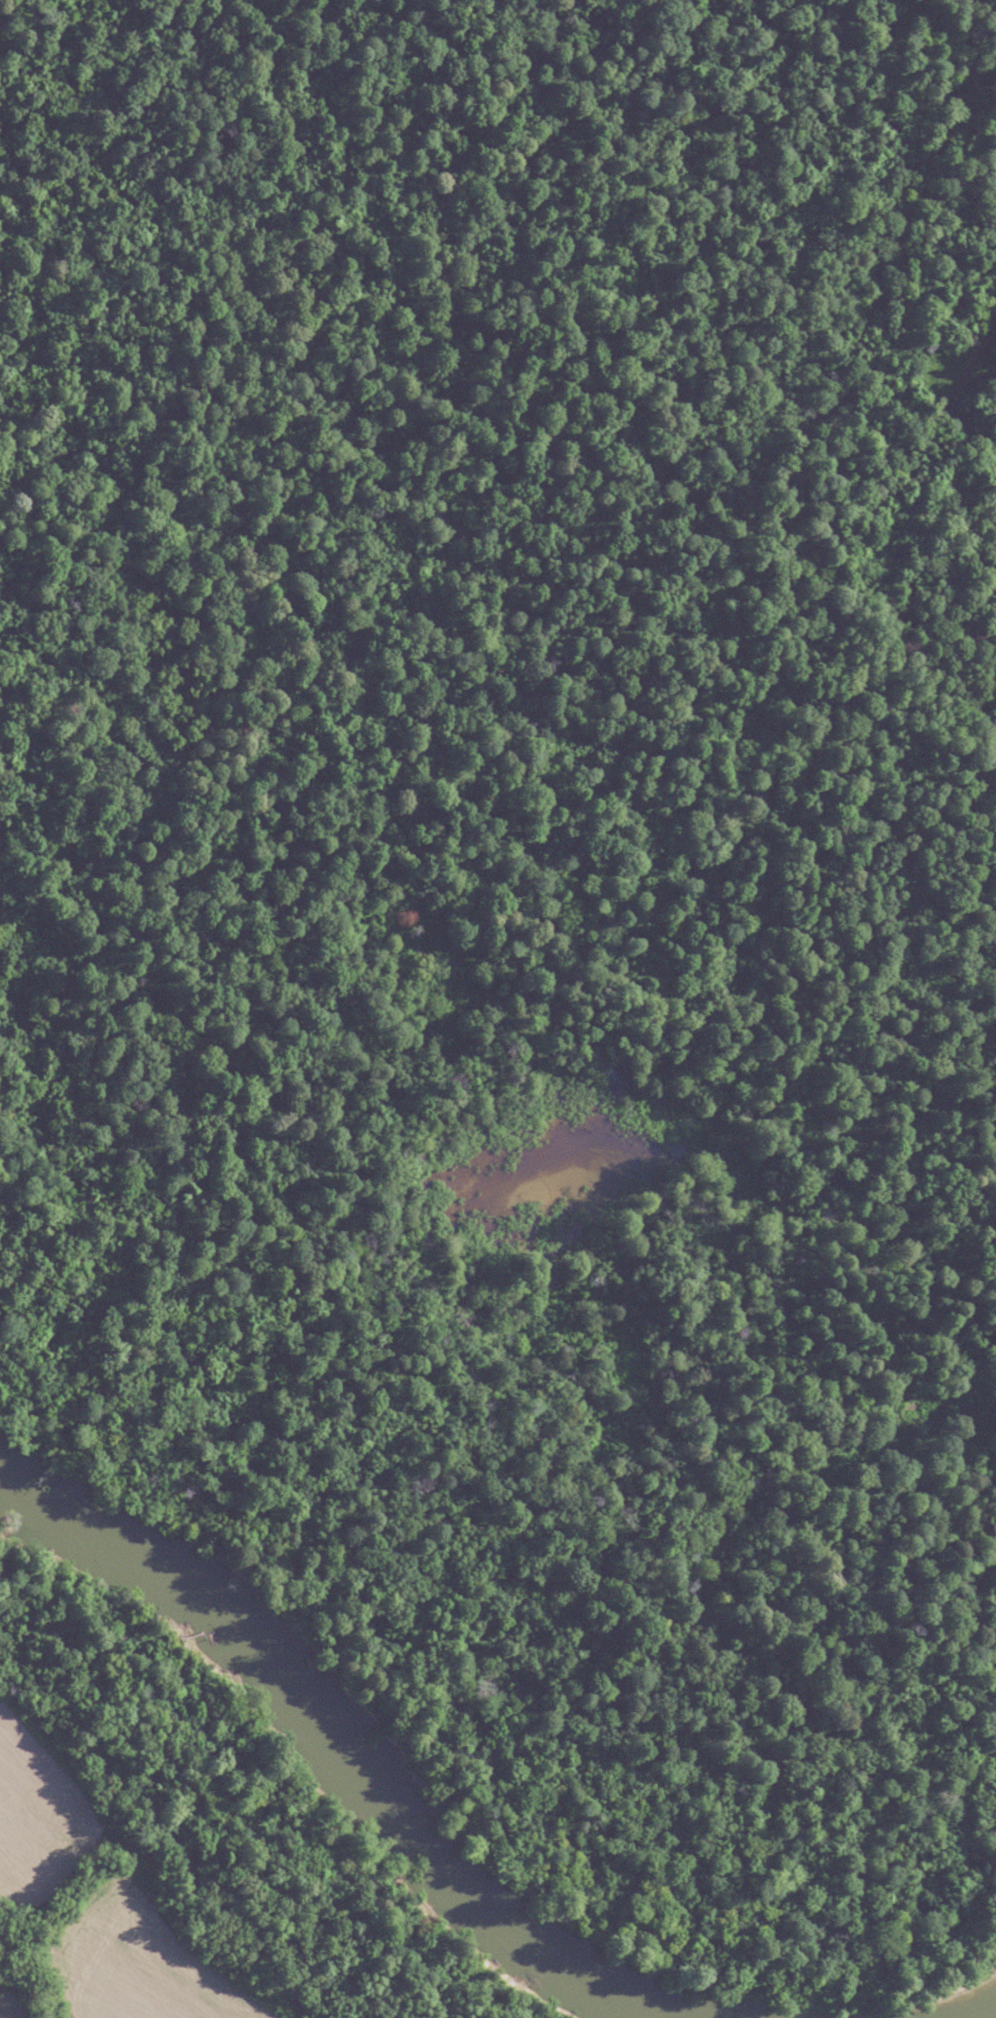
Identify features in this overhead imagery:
river: (333, 1739)
river: (991, 2016)

